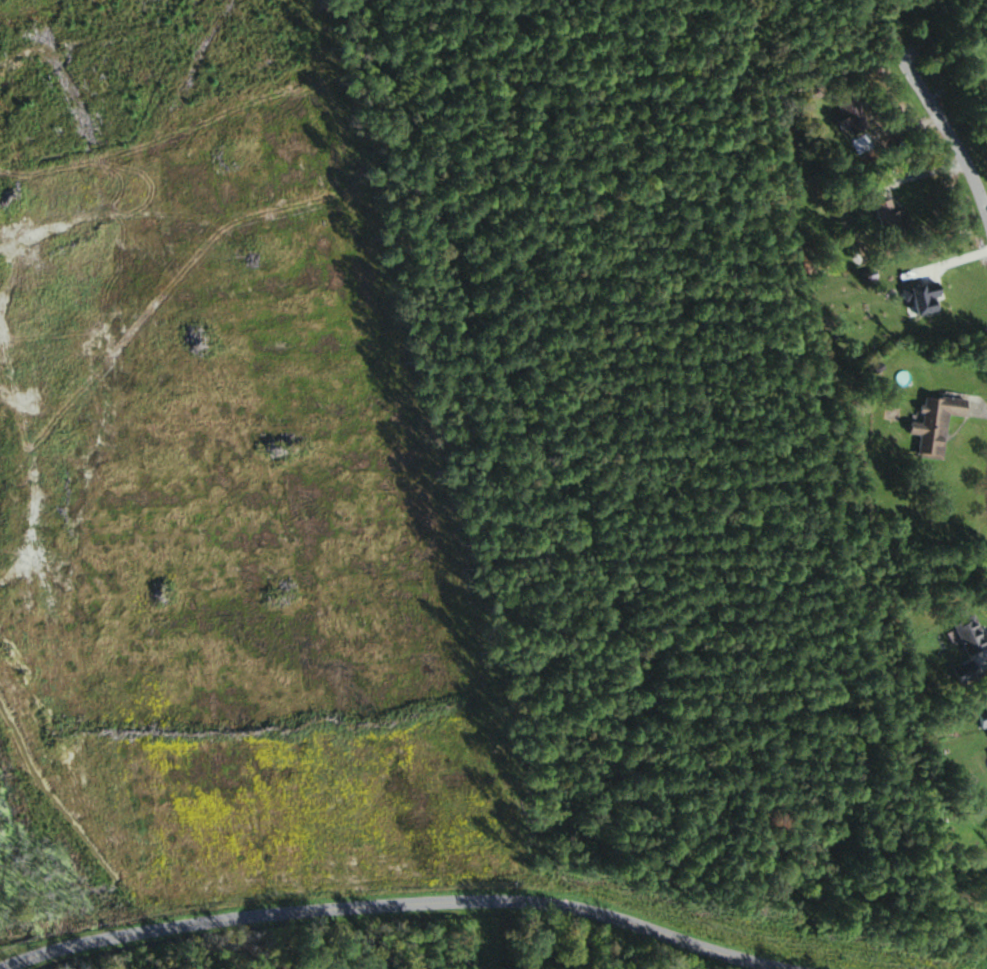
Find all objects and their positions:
building: (850, 115)
road: (940, 120)
building: (894, 220)
building: (938, 424)
building: (971, 635)
building: (966, 672)
building: (983, 721)
road: (388, 912)
building: (531, 947)

